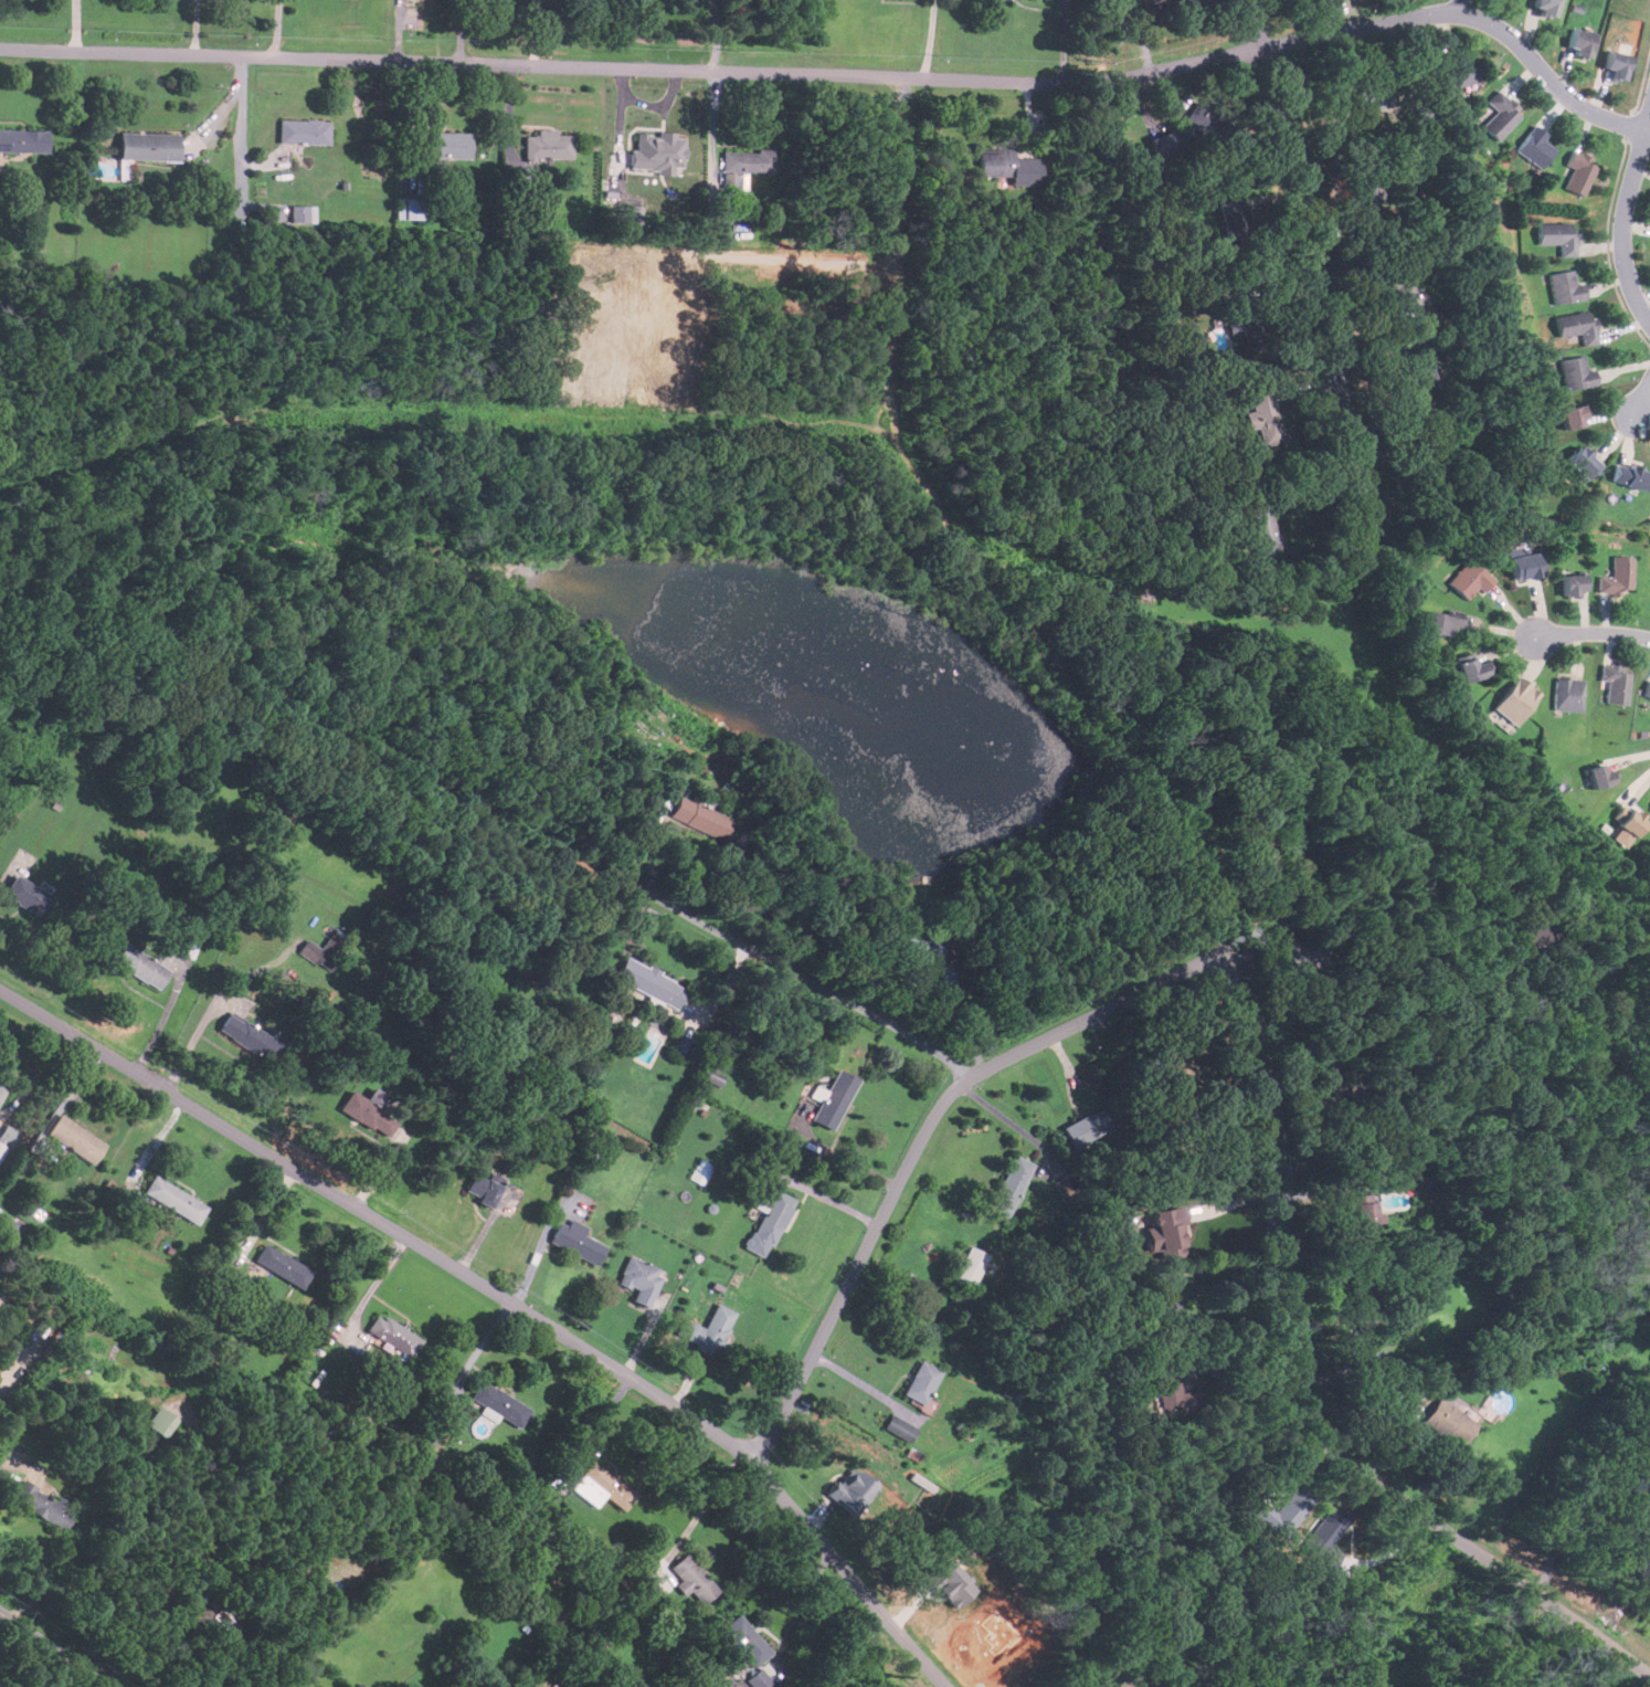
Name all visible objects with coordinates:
building: (1545, 6)
road: (1460, 7)
building: (1161, 8)
road: (1470, 14)
road: (1259, 23)
road: (711, 35)
road: (930, 40)
building: (1579, 41)
building: (1617, 64)
road: (634, 68)
building: (1459, 71)
building: (1375, 96)
building: (1501, 115)
building: (1202, 120)
road: (240, 128)
building: (303, 131)
building: (23, 139)
building: (1166, 141)
building: (441, 145)
building: (548, 145)
building: (147, 146)
building: (1535, 147)
building: (656, 152)
building: (747, 160)
building: (994, 162)
building: (1579, 171)
building: (1365, 193)
building: (408, 208)
building: (303, 213)
road: (1627, 214)
building: (1234, 220)
building: (1558, 235)
building: (1566, 287)
building: (1413, 294)
road: (1318, 296)
building: (1578, 325)
building: (1250, 326)
building: (1220, 340)
building: (1421, 370)
building: (1576, 372)
road: (1643, 401)
building: (1573, 415)
building: (1263, 417)
building: (1582, 461)
building: (1630, 474)
building: (1260, 529)
building: (1525, 566)
building: (1617, 576)
building: (1470, 578)
building: (1574, 584)
building: (1438, 622)
road: (1593, 629)
building: (1471, 667)
building: (1615, 683)
building: (1647, 688)
building: (1567, 694)
building: (1516, 699)
building: (1599, 776)
building: (700, 818)
building: (1631, 819)
building: (28, 896)
building: (1532, 935)
building: (918, 945)
building: (327, 948)
building: (1298, 955)
building: (140, 967)
building: (945, 972)
road: (800, 976)
building: (649, 983)
building: (247, 1036)
building: (1594, 1068)
building: (1187, 1080)
building: (1345, 1084)
building: (1, 1092)
building: (835, 1099)
building: (369, 1110)
building: (75, 1138)
building: (6, 1139)
road: (917, 1146)
building: (701, 1172)
building: (1009, 1187)
building: (483, 1188)
road: (1326, 1190)
road: (827, 1198)
building: (174, 1200)
building: (1364, 1213)
building: (770, 1222)
building: (1166, 1232)
building: (575, 1241)
road: (538, 1251)
building: (282, 1266)
building: (970, 1266)
road: (1226, 1267)
building: (639, 1280)
road: (374, 1285)
building: (1364, 1299)
road: (504, 1300)
building: (706, 1329)
building: (392, 1335)
building: (163, 1347)
road: (1233, 1349)
building: (920, 1382)
building: (1167, 1388)
building: (1014, 1389)
road: (1305, 1395)
building: (1188, 1398)
building: (498, 1405)
building: (158, 1422)
building: (1448, 1422)
building: (899, 1427)
road: (11, 1459)
building: (602, 1488)
building: (852, 1490)
road: (710, 1497)
building: (43, 1505)
building: (692, 1580)
road: (802, 1604)
road: (137, 1639)
building: (743, 1643)
road: (52, 1649)
building: (759, 1678)
building: (1125, 1681)
building: (357, 1685)
building: (359, 1685)

